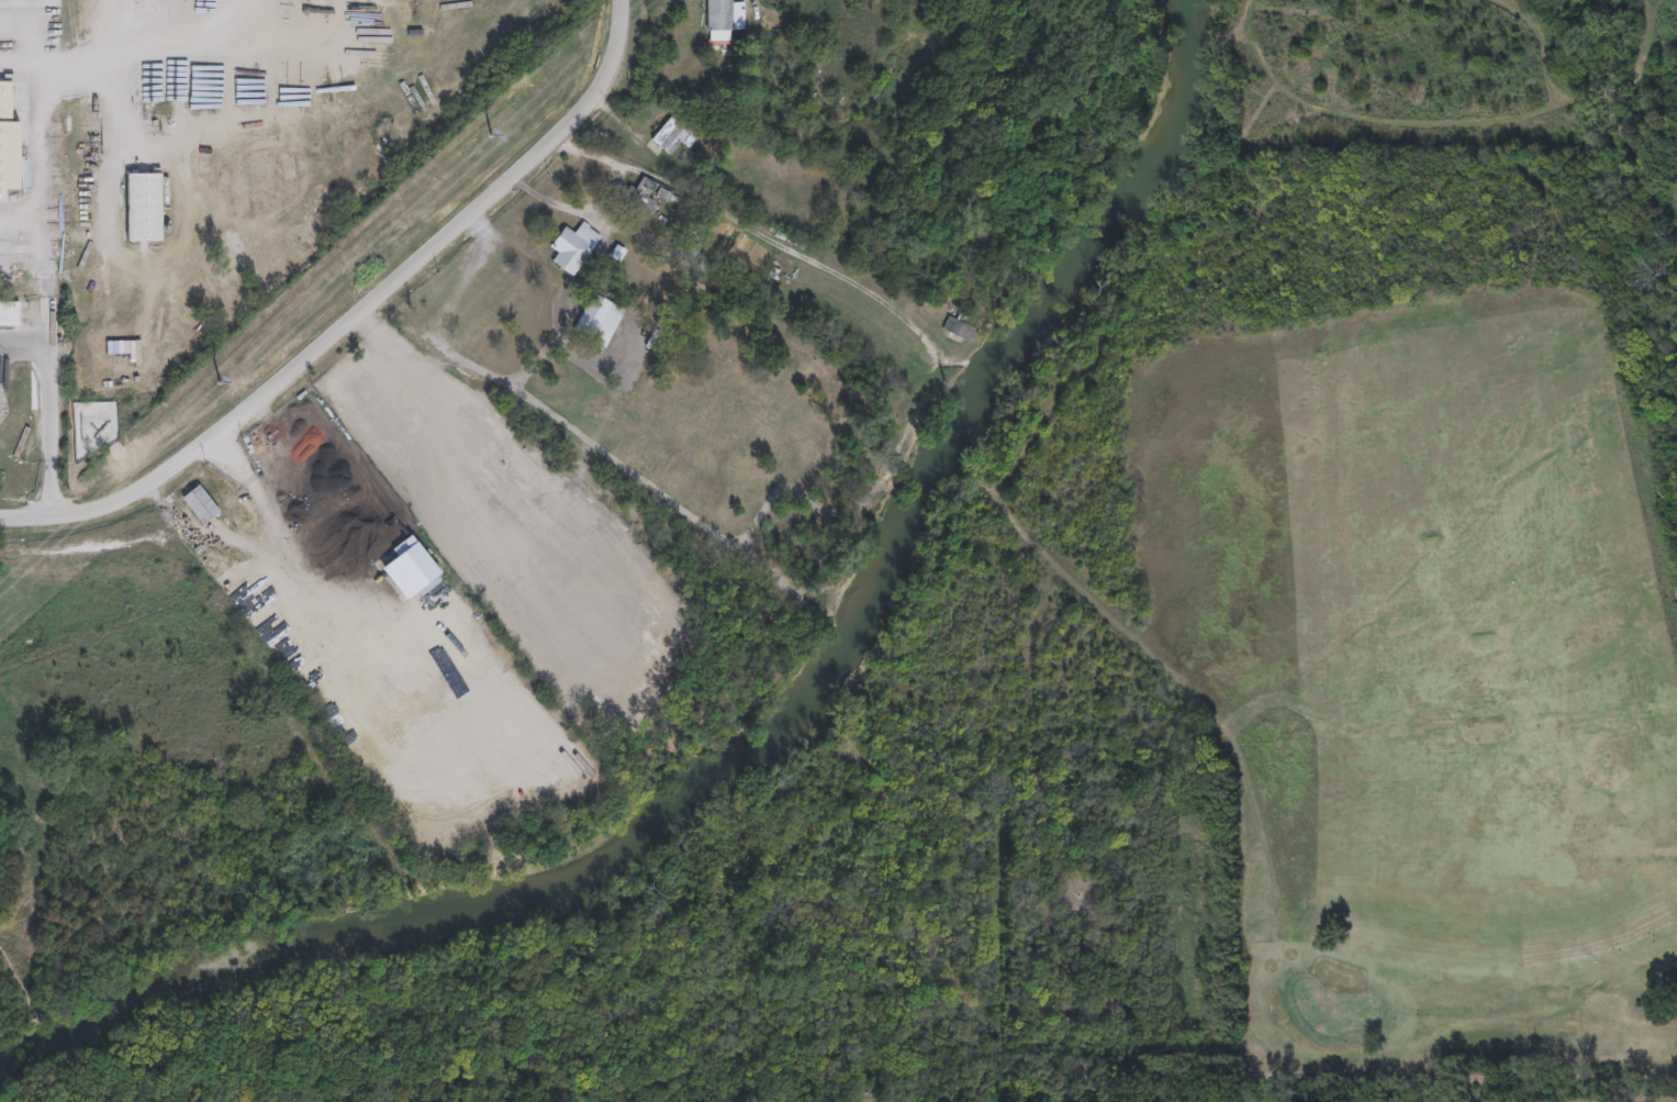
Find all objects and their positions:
building: (719, 14)
road: (14, 24)
power tower: (492, 133)
building: (674, 133)
building: (9, 141)
building: (667, 193)
building: (640, 197)
building: (144, 208)
road: (758, 233)
building: (573, 246)
road: (358, 311)
building: (593, 315)
road: (455, 355)
power tower: (221, 380)
road: (44, 409)
building: (309, 439)
building: (201, 503)
building: (410, 566)
river: (780, 734)

